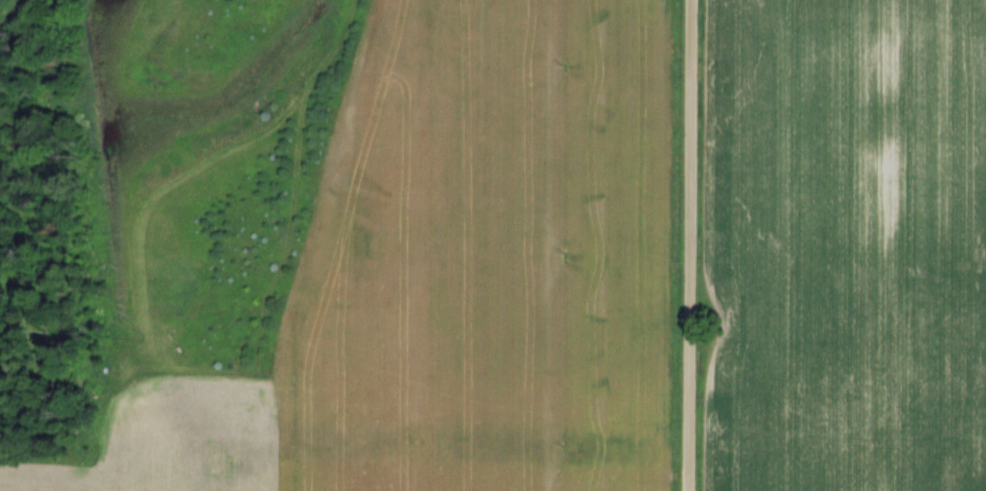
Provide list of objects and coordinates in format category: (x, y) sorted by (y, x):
road: (687, 245)

